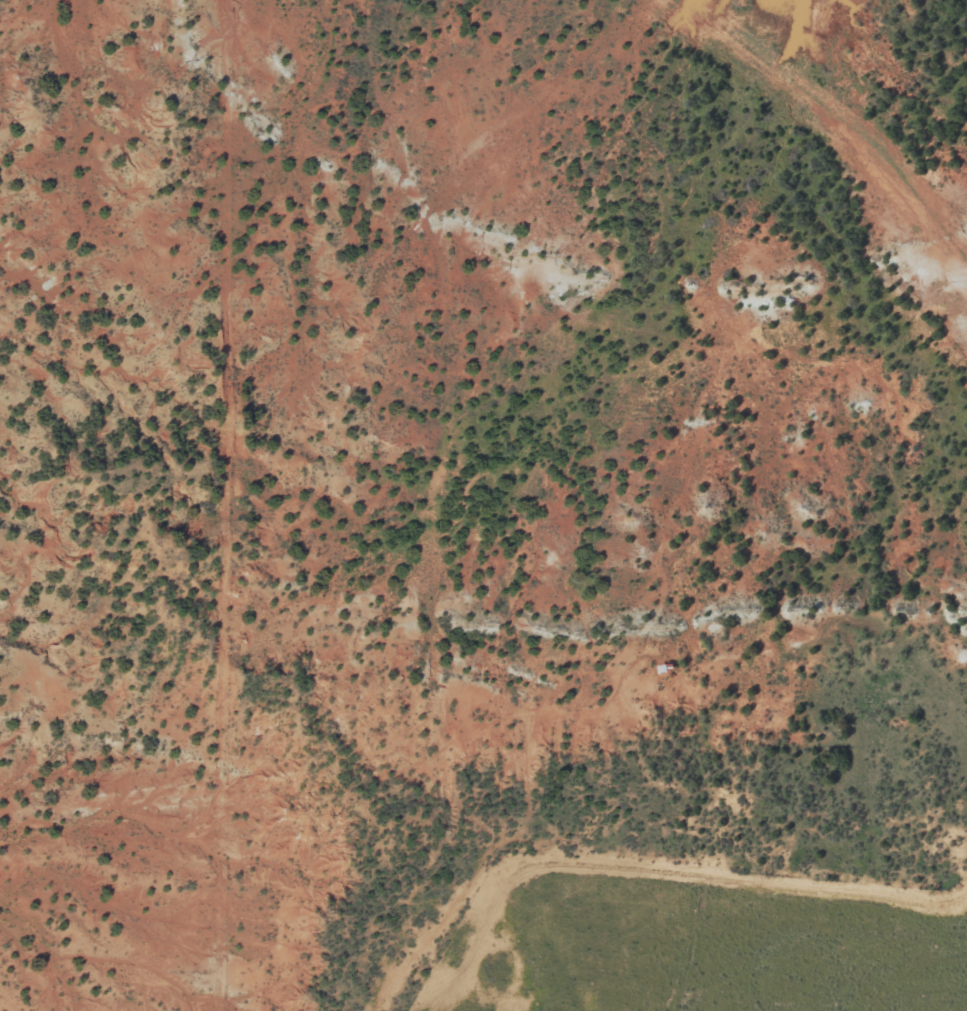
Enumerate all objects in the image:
building: (666, 670)

